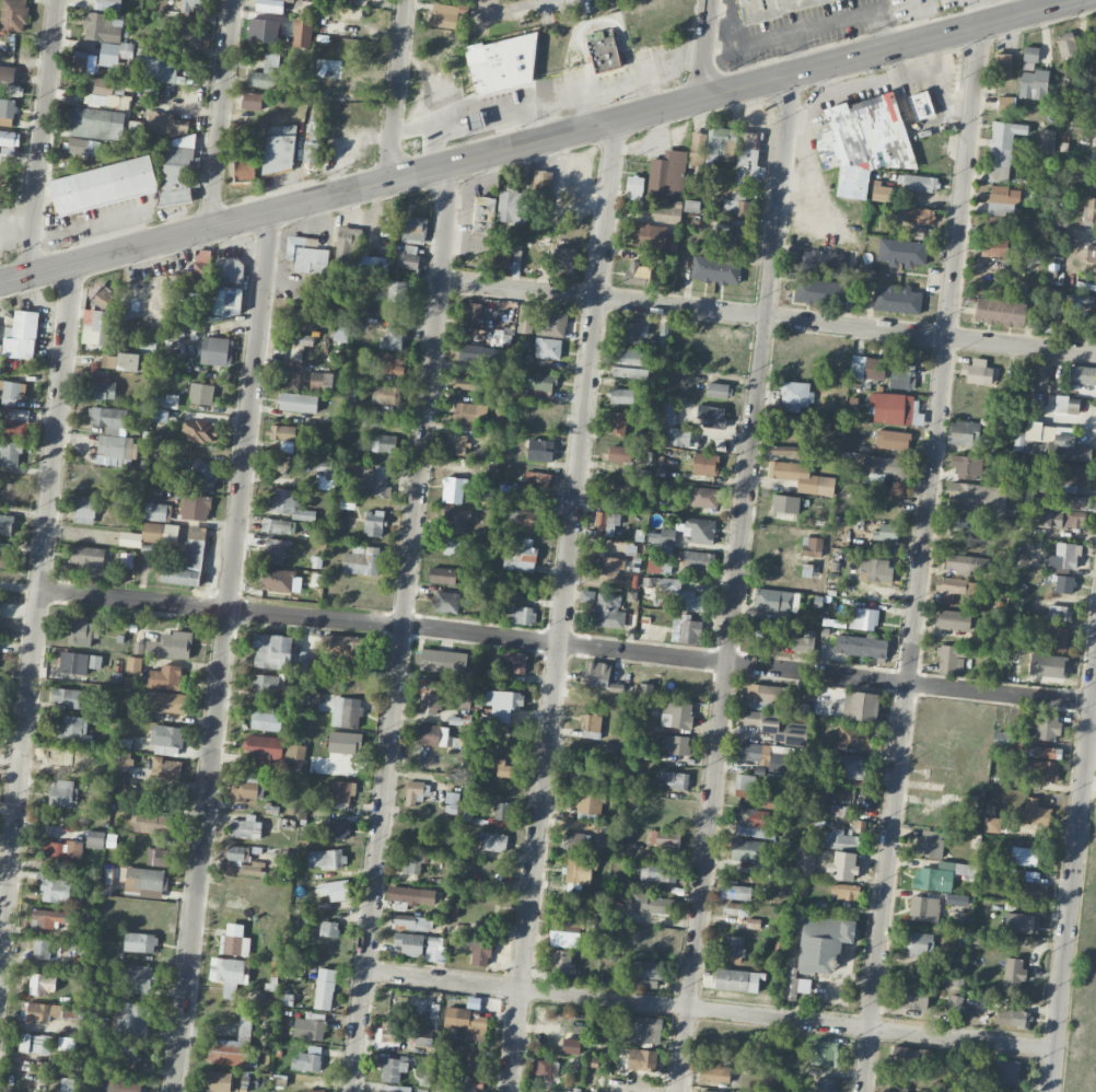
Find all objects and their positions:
building: (291, 0)
building: (336, 0)
road: (887, 2)
building: (107, 4)
building: (193, 4)
road: (522, 7)
building: (773, 7)
building: (13, 15)
road: (918, 19)
building: (445, 20)
road: (824, 23)
building: (102, 27)
building: (263, 31)
road: (730, 32)
building: (302, 33)
building: (1092, 33)
building: (190, 35)
building: (1065, 44)
road: (706, 49)
building: (603, 51)
building: (113, 53)
road: (796, 53)
building: (1029, 54)
building: (83, 60)
building: (159, 65)
road: (745, 66)
building: (1002, 66)
building: (486, 69)
building: (266, 72)
building: (7, 73)
building: (1033, 84)
building: (102, 89)
road: (398, 89)
road: (656, 90)
road: (550, 97)
building: (253, 100)
building: (1004, 104)
building: (921, 105)
road: (587, 107)
building: (7, 112)
road: (219, 113)
building: (475, 120)
road: (533, 120)
building: (96, 124)
building: (166, 124)
building: (9, 138)
road: (40, 138)
road: (535, 141)
building: (863, 141)
building: (1046, 141)
road: (434, 142)
building: (716, 143)
building: (77, 144)
building: (1002, 149)
building: (280, 150)
building: (310, 151)
building: (748, 156)
building: (178, 161)
building: (242, 170)
building: (666, 174)
building: (919, 183)
building: (103, 185)
building: (636, 187)
building: (879, 191)
building: (1003, 199)
building: (736, 205)
building: (512, 207)
building: (665, 213)
building: (1092, 213)
building: (483, 214)
building: (918, 216)
building: (996, 223)
road: (94, 224)
building: (415, 229)
building: (728, 234)
building: (649, 235)
building: (299, 244)
building: (347, 245)
building: (994, 246)
building: (902, 252)
building: (408, 256)
building: (516, 258)
building: (311, 259)
building: (499, 259)
building: (562, 262)
building: (821, 263)
building: (201, 264)
building: (373, 265)
building: (715, 269)
building: (636, 272)
building: (395, 290)
building: (818, 291)
building: (103, 297)
building: (896, 299)
building: (224, 301)
building: (1083, 301)
building: (202, 305)
building: (1050, 306)
building: (173, 309)
building: (473, 310)
building: (1000, 312)
road: (768, 317)
building: (525, 318)
building: (552, 322)
building: (97, 328)
building: (629, 332)
building: (21, 336)
building: (393, 338)
building: (299, 339)
building: (547, 348)
building: (217, 350)
building: (478, 353)
building: (0, 355)
building: (121, 361)
building: (387, 362)
building: (631, 362)
building: (867, 368)
building: (978, 372)
building: (1085, 375)
building: (1041, 376)
building: (901, 379)
building: (288, 380)
building: (323, 381)
building: (540, 381)
building: (474, 384)
building: (103, 388)
building: (716, 390)
building: (13, 393)
building: (201, 393)
building: (385, 394)
building: (621, 395)
building: (794, 395)
building: (163, 400)
building: (298, 402)
building: (1066, 404)
building: (891, 407)
building: (469, 413)
building: (668, 413)
building: (160, 415)
building: (712, 416)
building: (109, 419)
building: (13, 422)
building: (376, 422)
building: (617, 422)
building: (791, 423)
building: (1062, 430)
building: (199, 431)
building: (1039, 431)
building: (283, 432)
building: (976, 434)
building: (645, 435)
building: (677, 437)
building: (893, 439)
building: (383, 443)
building: (455, 444)
building: (115, 449)
building: (1070, 449)
building: (540, 450)
building: (789, 451)
building: (620, 453)
building: (10, 454)
building: (704, 463)
building: (967, 466)
building: (884, 469)
building: (205, 475)
building: (324, 475)
building: (1071, 476)
building: (802, 477)
building: (537, 479)
building: (375, 480)
building: (1033, 483)
building: (453, 489)
building: (9, 492)
building: (980, 496)
building: (704, 497)
building: (1073, 501)
building: (347, 502)
building: (785, 503)
building: (290, 504)
building: (196, 507)
building: (84, 510)
building: (155, 511)
building: (1061, 519)
building: (456, 520)
building: (527, 520)
building: (374, 523)
building: (606, 523)
building: (7, 524)
building: (958, 524)
building: (278, 525)
building: (699, 531)
building: (887, 531)
building: (160, 532)
building: (666, 536)
building: (812, 546)
building: (451, 547)
building: (275, 551)
building: (4, 555)
building: (1064, 555)
building: (86, 557)
building: (520, 557)
road: (923, 558)
building: (187, 560)
building: (362, 560)
building: (698, 560)
building: (123, 561)
building: (658, 567)
building: (609, 568)
building: (876, 569)
building: (442, 576)
building: (277, 580)
road: (736, 582)
building: (1063, 583)
building: (956, 585)
road: (20, 588)
building: (586, 596)
building: (686, 599)
building: (773, 600)
building: (446, 602)
road: (563, 605)
building: (0, 606)
road: (37, 608)
building: (608, 611)
building: (1059, 613)
building: (521, 614)
building: (863, 618)
building: (953, 619)
road: (403, 628)
building: (763, 629)
building: (81, 630)
building: (685, 630)
building: (1058, 639)
road: (566, 644)
building: (802, 644)
building: (171, 646)
building: (861, 646)
building: (342, 648)
road: (223, 651)
building: (272, 651)
building: (440, 660)
building: (514, 660)
building: (951, 660)
building: (306, 661)
building: (78, 662)
building: (133, 664)
building: (596, 674)
building: (165, 677)
building: (266, 687)
building: (767, 694)
building: (458, 695)
building: (70, 697)
building: (429, 697)
building: (166, 701)
building: (502, 705)
building: (860, 706)
building: (347, 712)
building: (676, 715)
building: (266, 717)
building: (762, 721)
building: (591, 727)
building: (1047, 727)
building: (73, 730)
building: (432, 734)
building: (853, 737)
building: (1001, 739)
building: (166, 740)
building: (341, 742)
building: (675, 744)
building: (271, 750)
building: (1043, 752)
building: (763, 756)
building: (123, 760)
building: (848, 766)
building: (166, 768)
building: (501, 768)
building: (1040, 769)
building: (586, 777)
building: (676, 779)
building: (745, 781)
building: (245, 786)
road: (1089, 787)
building: (340, 791)
building: (416, 792)
building: (741, 792)
building: (63, 793)
building: (451, 802)
building: (590, 804)
building: (501, 811)
building: (1030, 813)
building: (751, 822)
building: (151, 823)
building: (991, 824)
building: (245, 826)
building: (337, 829)
building: (95, 839)
building: (109, 839)
building: (840, 839)
building: (664, 840)
building: (491, 841)
building: (576, 841)
building: (929, 844)
building: (747, 850)
building: (63, 851)
building: (1024, 856)
building: (159, 857)
building: (326, 858)
building: (805, 861)
building: (241, 862)
building: (412, 863)
building: (842, 866)
building: (580, 870)
building: (658, 872)
building: (106, 875)
building: (938, 875)
road: (1072, 879)
building: (144, 881)
building: (782, 886)
building: (336, 890)
building: (56, 891)
building: (843, 891)
building: (1027, 891)
building: (736, 892)
building: (410, 896)
building: (957, 899)
building: (658, 905)
building: (735, 908)
building: (924, 908)
building: (48, 918)
building: (410, 922)
building: (1019, 922)
building: (592, 926)
building: (566, 927)
building: (328, 928)
building: (234, 941)
building: (140, 942)
building: (823, 942)
building: (409, 943)
building: (919, 943)
building: (733, 945)
building: (40, 949)
building: (434, 949)
building: (480, 954)
building: (733, 960)
building: (561, 961)
building: (645, 968)
building: (229, 973)
building: (1013, 974)
building: (140, 978)
building: (737, 980)
building: (43, 983)
building: (794, 984)
building: (324, 988)
building: (913, 995)
building: (954, 1002)
road: (650, 1003)
building: (39, 1011)
building: (1016, 1018)
building: (130, 1021)
building: (313, 1025)
building: (471, 1025)
building: (605, 1030)
building: (643, 1030)
building: (388, 1036)
building: (34, 1043)
building: (67, 1043)
building: (232, 1046)
building: (825, 1053)
building: (127, 1056)
building: (468, 1058)
building: (911, 1058)
building: (307, 1059)
building: (641, 1059)
building: (393, 1068)
building: (545, 1068)
building: (714, 1072)
building: (1006, 1072)
building: (218, 1081)
building: (825, 1084)
building: (123, 1085)
building: (942, 1085)
building: (468, 1087)
building: (615, 1088)
building: (395, 1089)
building: (899, 1089)
building: (964, 1089)
building: (312, 1091)
building: (570, 1091)

